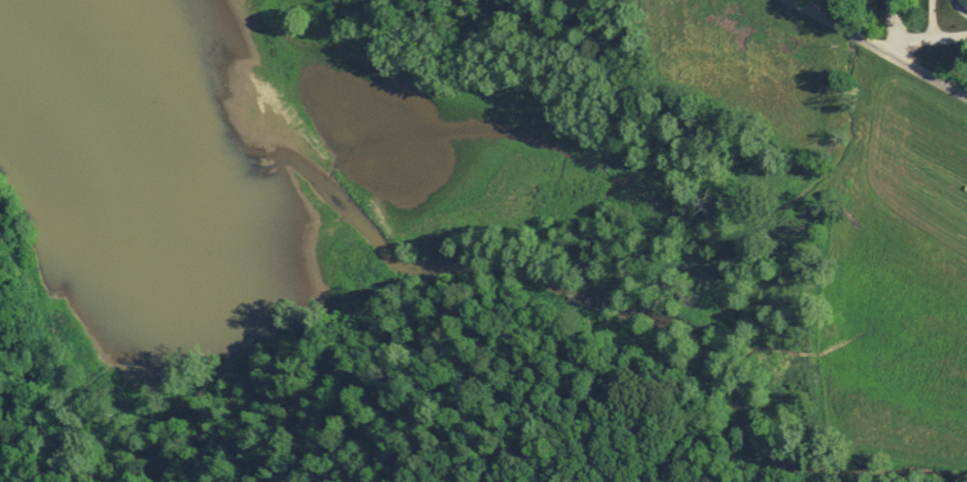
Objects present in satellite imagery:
road: (873, 48)

